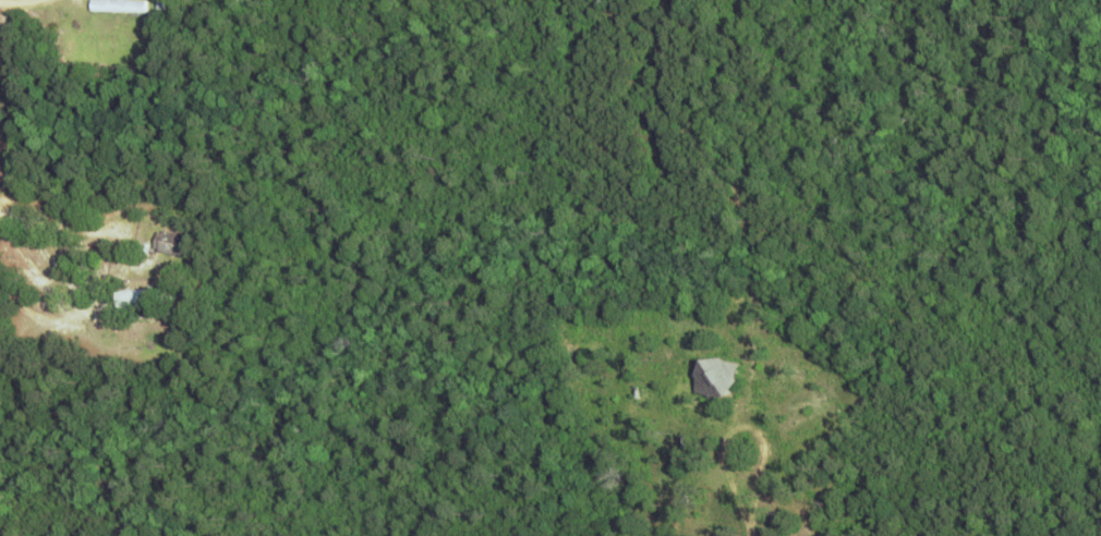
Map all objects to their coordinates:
building: (117, 4)
building: (167, 241)
building: (134, 297)
building: (712, 377)

